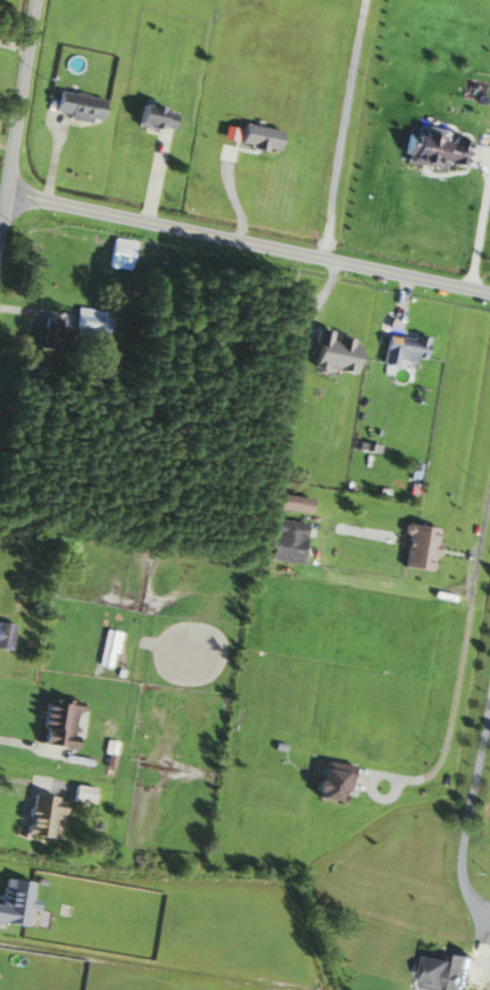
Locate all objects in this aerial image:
road: (16, 106)
building: (75, 106)
building: (151, 117)
road: (341, 133)
building: (433, 148)
road: (154, 182)
road: (478, 230)
road: (246, 252)
building: (119, 253)
building: (90, 321)
building: (47, 333)
building: (401, 348)
building: (332, 352)
building: (288, 503)
building: (283, 541)
building: (416, 548)
building: (5, 634)
building: (108, 648)
road: (462, 656)
building: (55, 722)
road: (14, 740)
building: (329, 779)
road: (23, 788)
building: (87, 794)
road: (469, 810)
building: (39, 814)
building: (444, 972)

